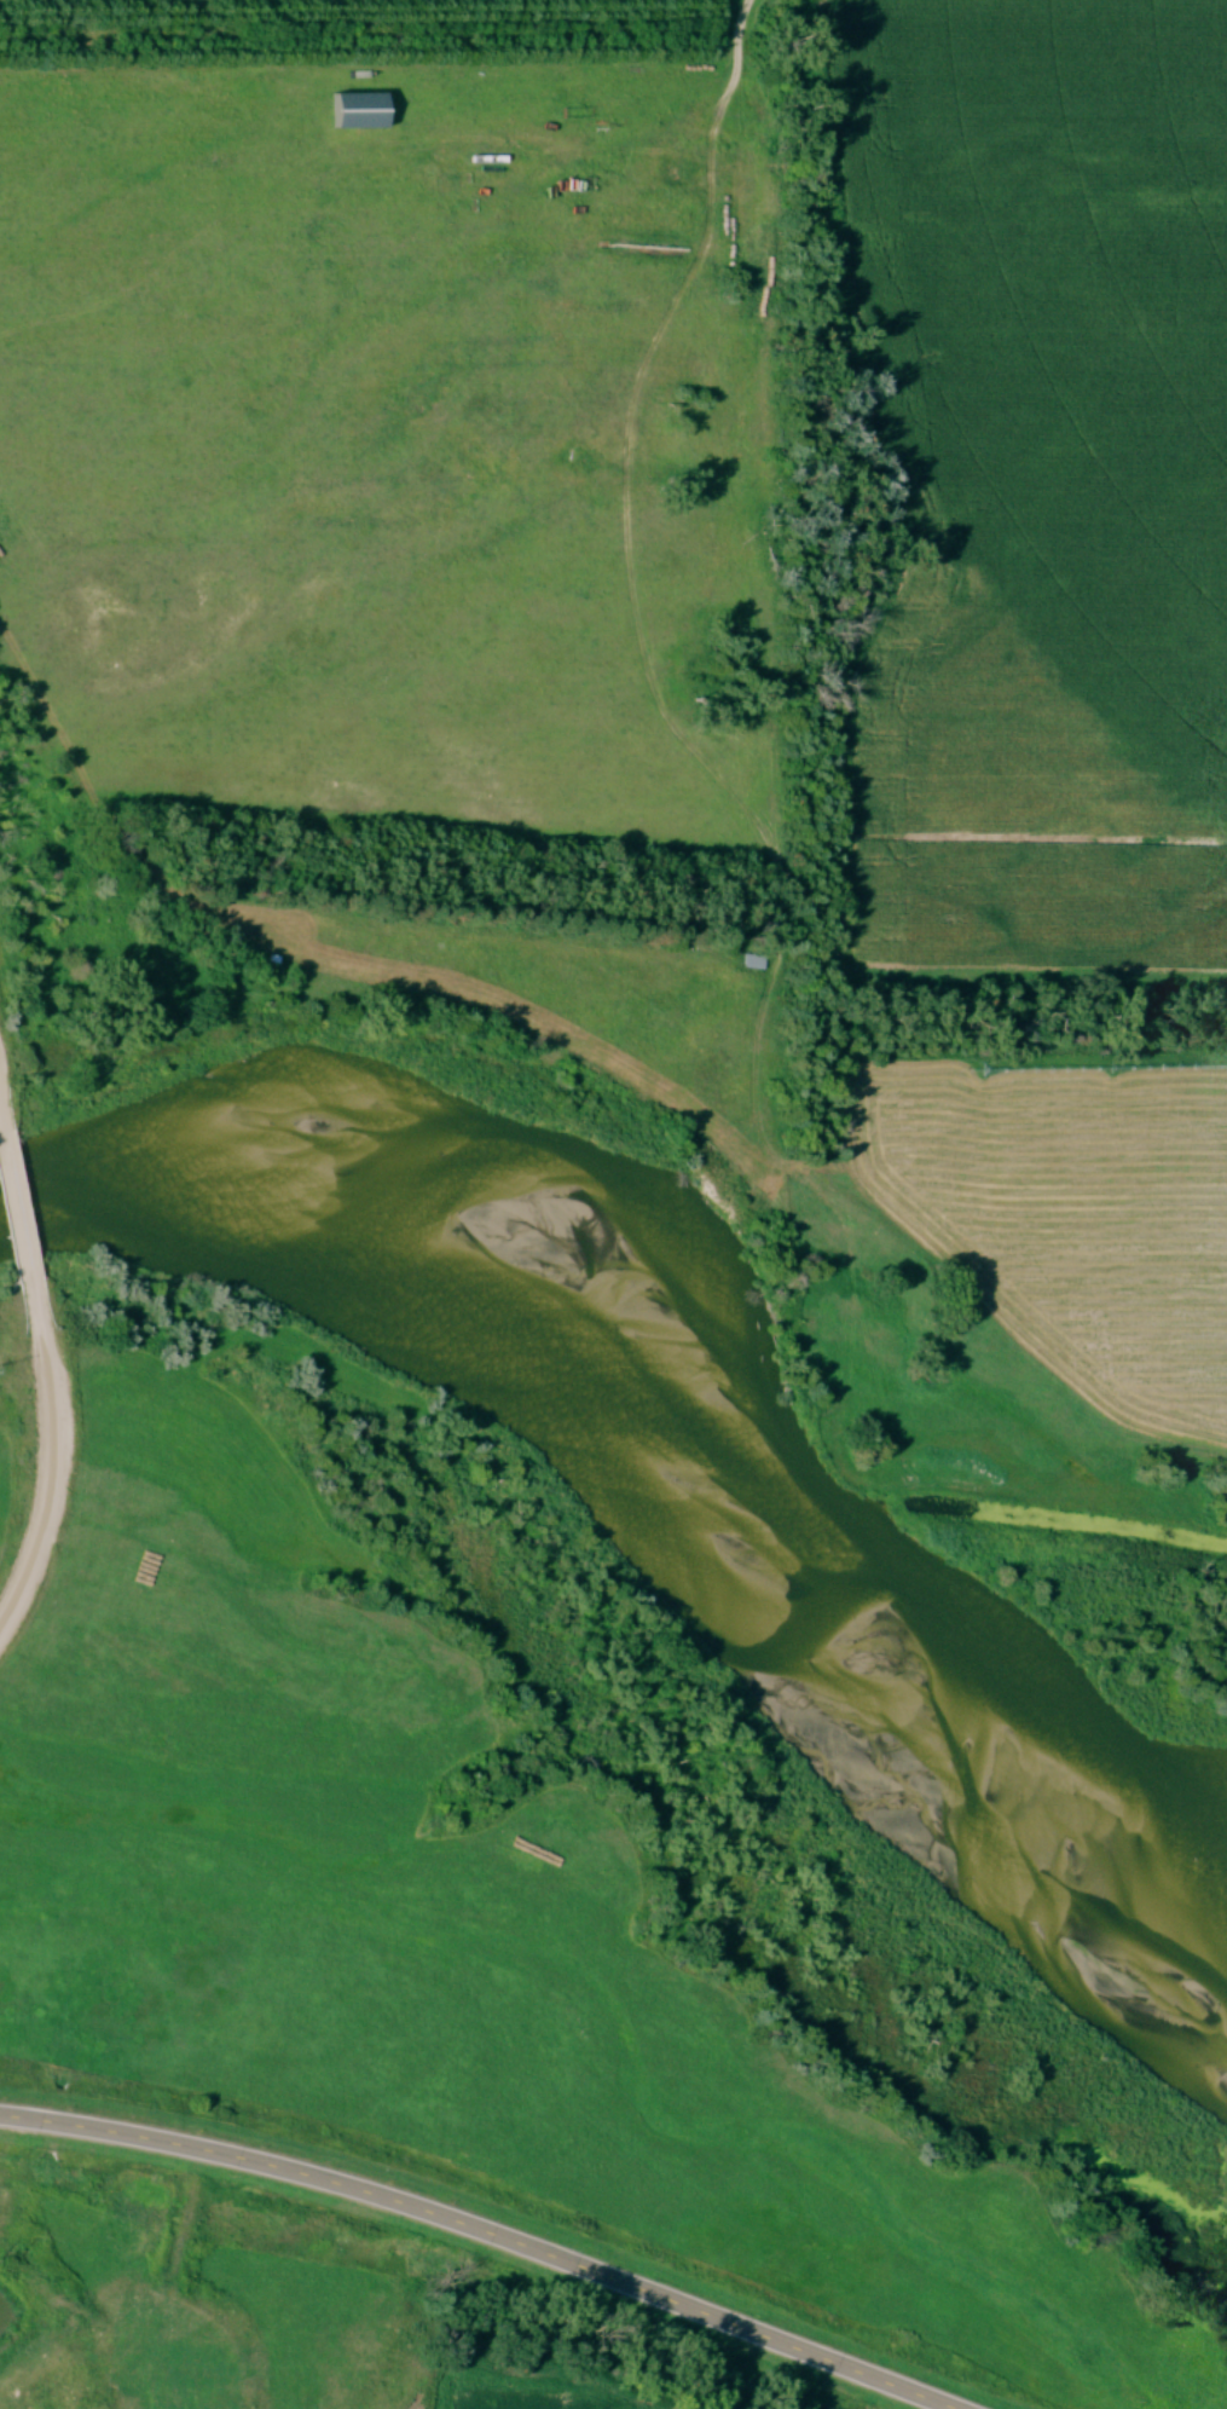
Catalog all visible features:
building: (758, 969)
road: (4, 1111)
road: (19, 1202)
river: (704, 1346)
road: (56, 1458)
road: (490, 2229)

